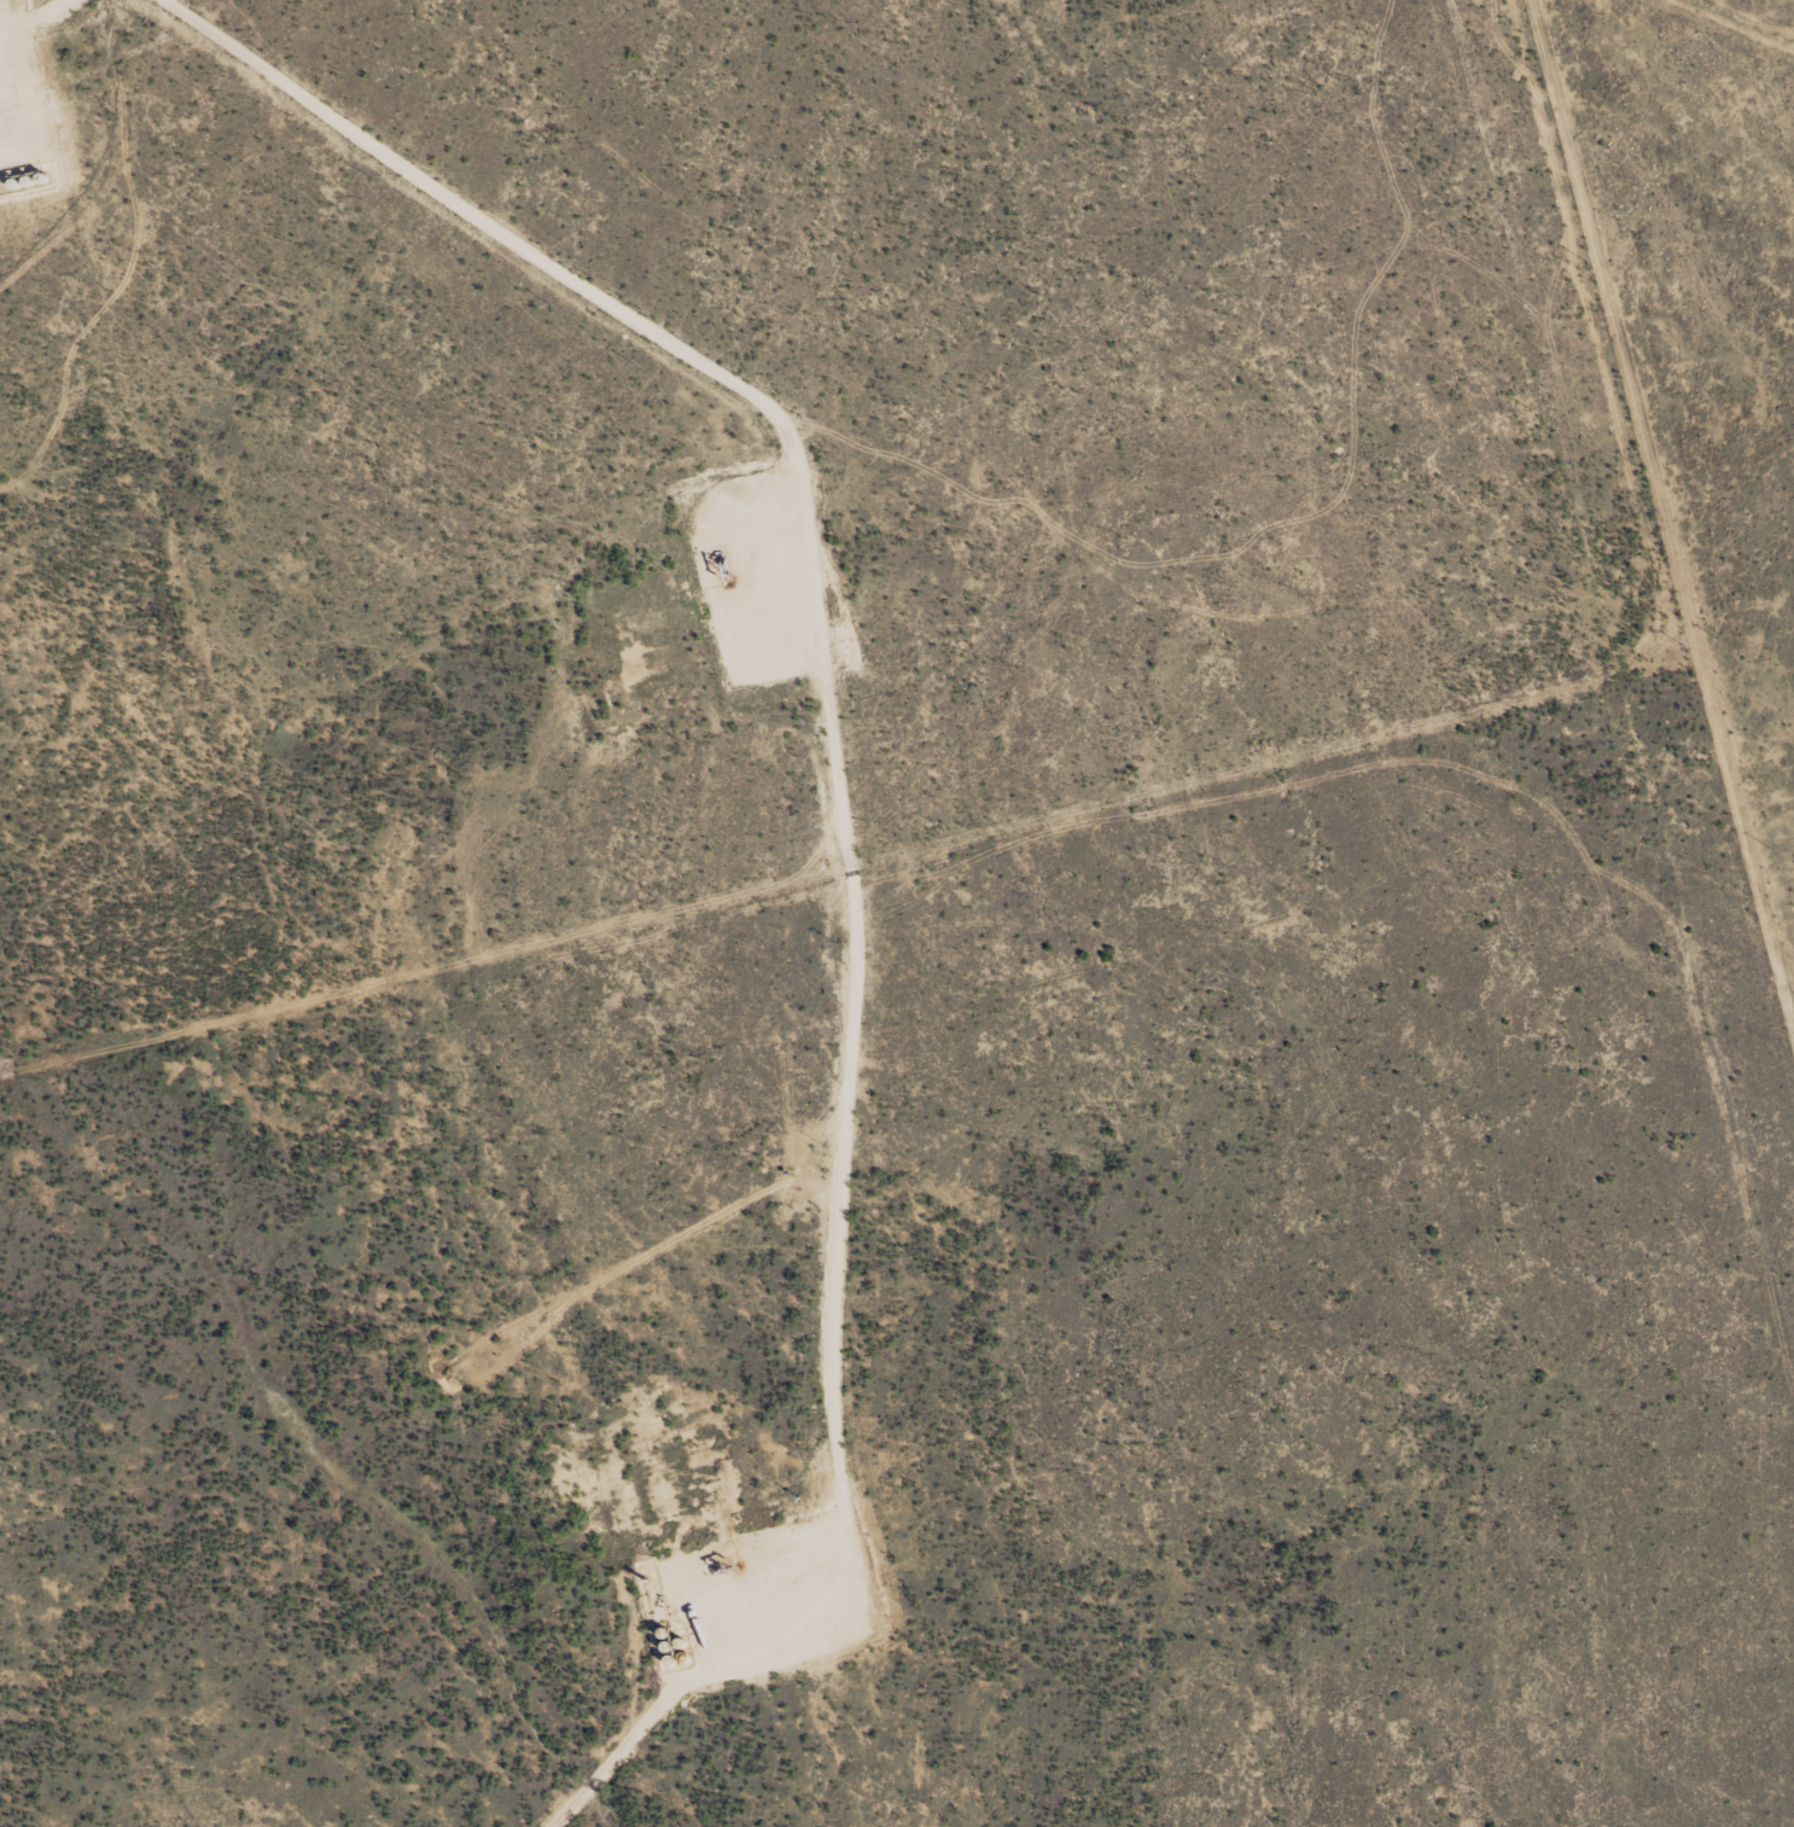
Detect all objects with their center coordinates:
road: (1749, 82)

